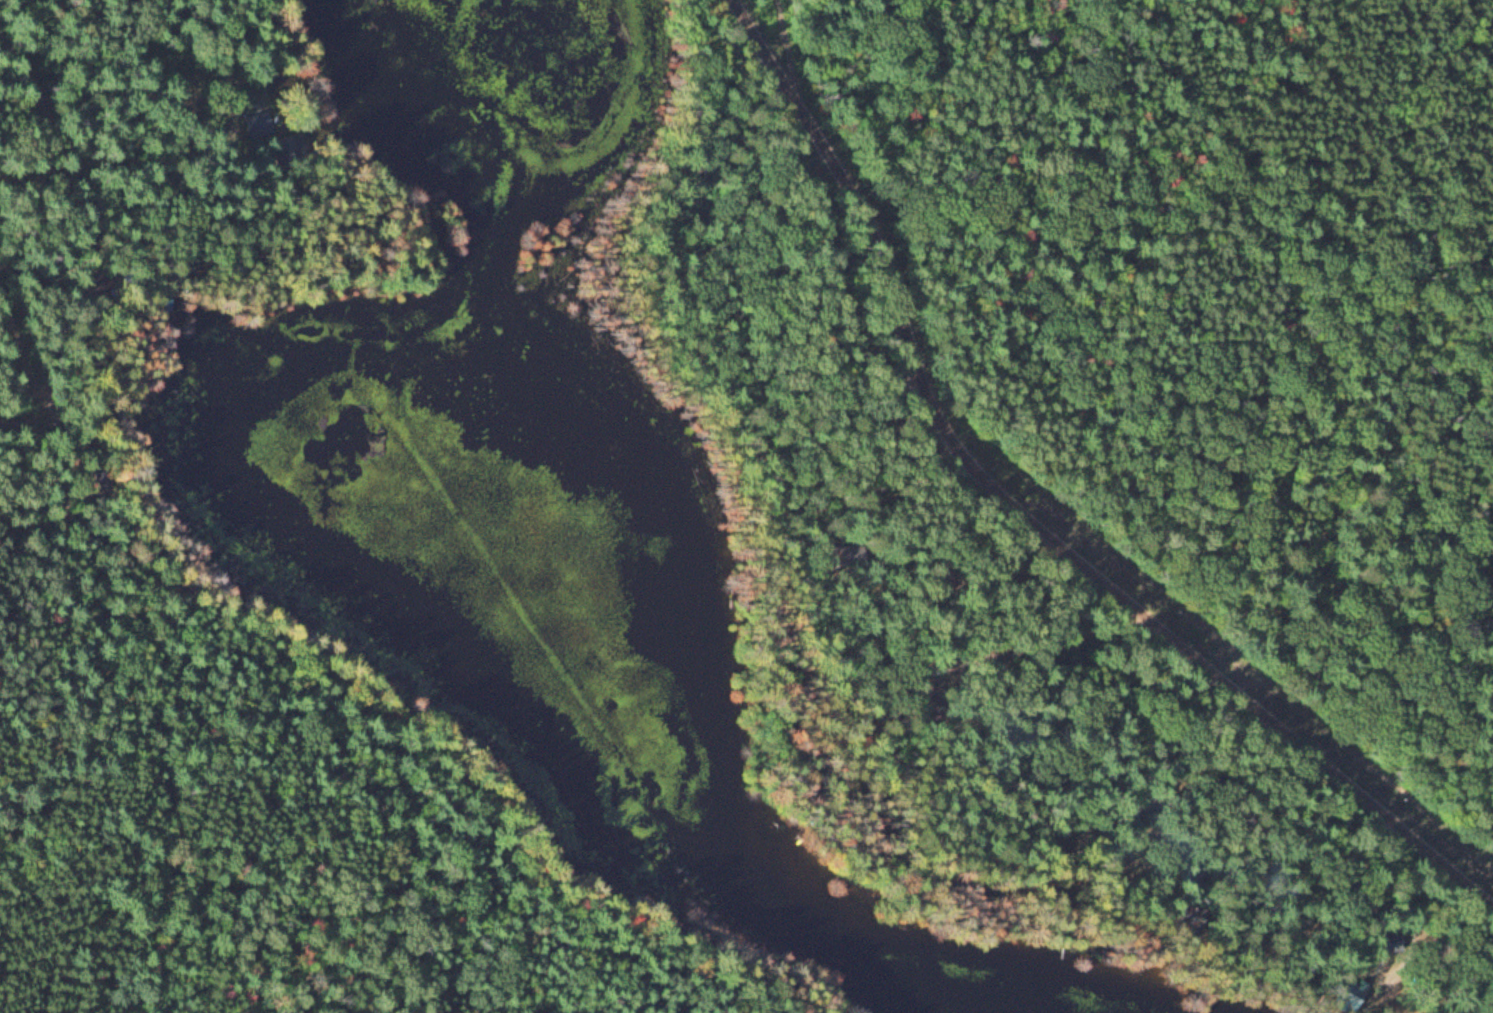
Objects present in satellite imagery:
building: (257, 122)
building: (285, 149)
road: (1024, 520)
road: (78, 525)
road: (47, 594)
building: (1390, 939)
building: (1348, 996)

